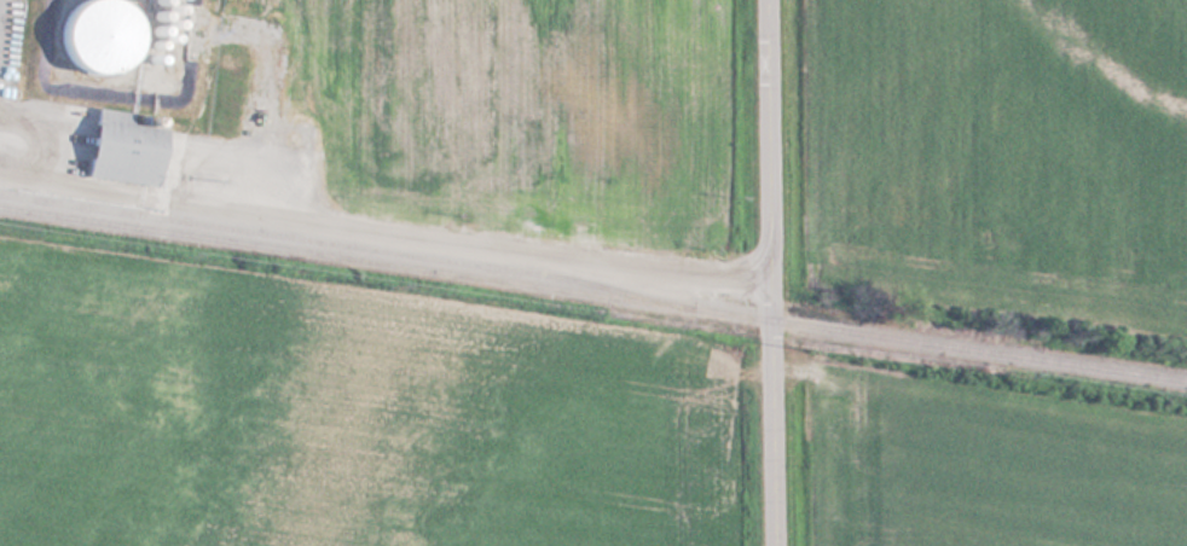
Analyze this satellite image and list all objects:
building: (99, 36)
building: (127, 149)
railway: (338, 244)
road: (768, 272)
railway: (593, 295)

